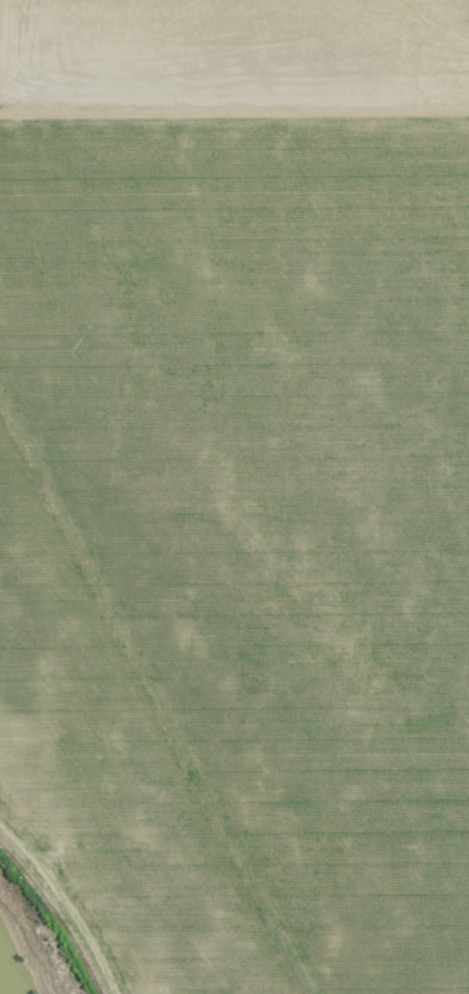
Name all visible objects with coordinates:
road: (234, 119)

